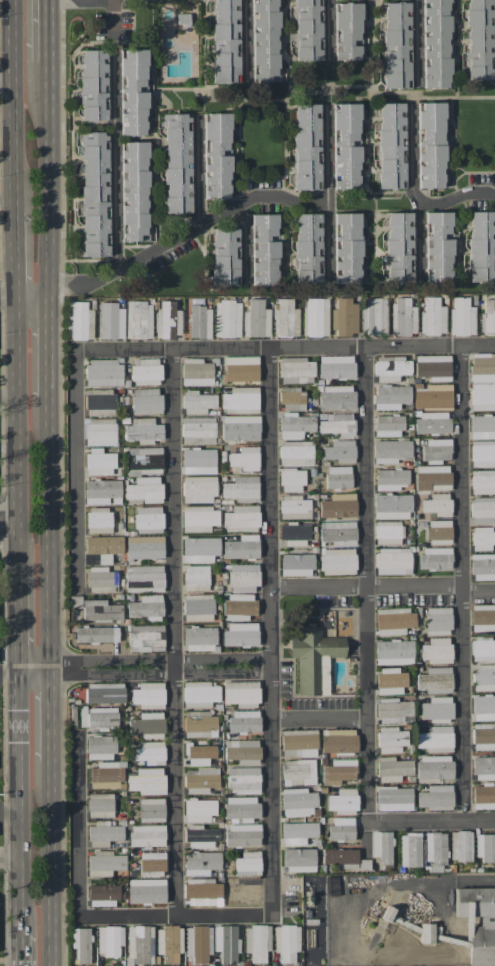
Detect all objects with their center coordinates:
road: (328, 27)
road: (48, 30)
building: (308, 30)
building: (347, 31)
road: (245, 38)
building: (479, 39)
building: (264, 40)
road: (417, 40)
building: (225, 41)
building: (395, 44)
building: (435, 44)
road: (8, 83)
building: (93, 85)
building: (133, 92)
road: (16, 105)
road: (113, 133)
building: (391, 145)
building: (430, 145)
building: (306, 146)
building: (346, 146)
building: (216, 156)
building: (177, 162)
road: (49, 172)
road: (196, 172)
building: (134, 191)
road: (326, 193)
road: (414, 193)
building: (94, 194)
road: (457, 197)
road: (171, 237)
road: (245, 241)
building: (438, 246)
building: (481, 246)
building: (399, 247)
building: (307, 248)
building: (347, 248)
building: (264, 249)
road: (17, 251)
building: (225, 256)
road: (9, 292)
building: (344, 316)
building: (403, 316)
building: (488, 316)
building: (316, 317)
building: (374, 317)
building: (432, 317)
building: (462, 317)
building: (227, 318)
building: (256, 319)
building: (285, 319)
building: (138, 320)
building: (79, 321)
building: (111, 321)
building: (167, 321)
building: (199, 322)
road: (50, 341)
road: (168, 349)
building: (336, 367)
building: (433, 367)
building: (482, 367)
building: (240, 368)
building: (391, 368)
building: (295, 370)
building: (145, 371)
building: (103, 372)
building: (196, 372)
building: (432, 395)
road: (9, 396)
building: (390, 396)
building: (482, 396)
building: (336, 397)
building: (292, 398)
building: (240, 400)
building: (146, 401)
building: (197, 402)
building: (100, 404)
building: (432, 422)
building: (336, 423)
building: (295, 425)
building: (388, 425)
building: (482, 426)
building: (240, 427)
road: (19, 430)
building: (143, 430)
building: (198, 430)
building: (99, 431)
building: (436, 449)
building: (340, 451)
building: (390, 451)
building: (295, 453)
building: (482, 453)
building: (245, 458)
building: (144, 460)
building: (199, 460)
building: (99, 462)
building: (338, 477)
building: (432, 477)
building: (390, 479)
building: (291, 480)
building: (482, 482)
building: (241, 488)
building: (144, 489)
building: (198, 489)
building: (102, 492)
building: (437, 504)
building: (338, 505)
building: (391, 506)
building: (294, 507)
building: (482, 510)
building: (199, 518)
building: (241, 518)
building: (148, 519)
building: (98, 520)
road: (10, 523)
building: (439, 531)
building: (338, 532)
building: (388, 532)
road: (50, 533)
building: (294, 534)
building: (483, 538)
building: (103, 547)
building: (144, 547)
building: (241, 547)
building: (199, 549)
building: (435, 558)
building: (392, 560)
building: (338, 561)
building: (296, 564)
building: (482, 566)
building: (195, 577)
building: (144, 578)
building: (243, 578)
building: (101, 580)
road: (460, 583)
road: (381, 587)
building: (75, 601)
building: (238, 606)
building: (146, 607)
building: (198, 607)
building: (100, 610)
building: (482, 617)
road: (21, 618)
building: (437, 620)
building: (394, 621)
road: (172, 632)
building: (96, 634)
building: (145, 638)
building: (199, 638)
road: (368, 646)
building: (482, 649)
building: (437, 650)
building: (393, 652)
building: (313, 658)
road: (146, 667)
building: (484, 677)
road: (10, 680)
building: (435, 680)
building: (390, 681)
building: (104, 692)
building: (240, 693)
building: (199, 694)
building: (148, 695)
building: (483, 705)
building: (436, 708)
building: (392, 710)
road: (52, 714)
building: (98, 717)
road: (319, 717)
building: (244, 721)
building: (147, 725)
building: (200, 725)
building: (483, 736)
building: (390, 739)
building: (436, 739)
building: (338, 740)
building: (298, 743)
building: (100, 747)
building: (242, 751)
building: (149, 753)
building: (200, 754)
building: (434, 767)
building: (484, 767)
building: (392, 769)
building: (338, 771)
building: (297, 772)
building: (106, 775)
building: (201, 780)
building: (243, 780)
building: (147, 781)
building: (483, 796)
building: (435, 797)
building: (394, 798)
road: (22, 800)
building: (343, 801)
building: (297, 802)
building: (100, 804)
building: (240, 808)
building: (151, 809)
building: (199, 810)
road: (11, 813)
road: (270, 817)
building: (341, 828)
building: (298, 832)
building: (103, 833)
building: (242, 834)
building: (146, 835)
building: (200, 836)
building: (460, 845)
building: (381, 846)
building: (485, 847)
building: (410, 849)
building: (435, 849)
road: (11, 854)
building: (339, 855)
building: (299, 860)
building: (201, 862)
road: (53, 863)
building: (104, 863)
building: (152, 863)
building: (247, 864)
road: (481, 878)
road: (407, 883)
building: (146, 890)
building: (244, 891)
building: (203, 892)
building: (102, 895)
building: (426, 933)
building: (109, 940)
building: (257, 942)
building: (286, 942)
building: (169, 943)
building: (198, 943)
building: (226, 943)
building: (81, 944)
building: (139, 944)
building: (481, 946)
road: (24, 949)

